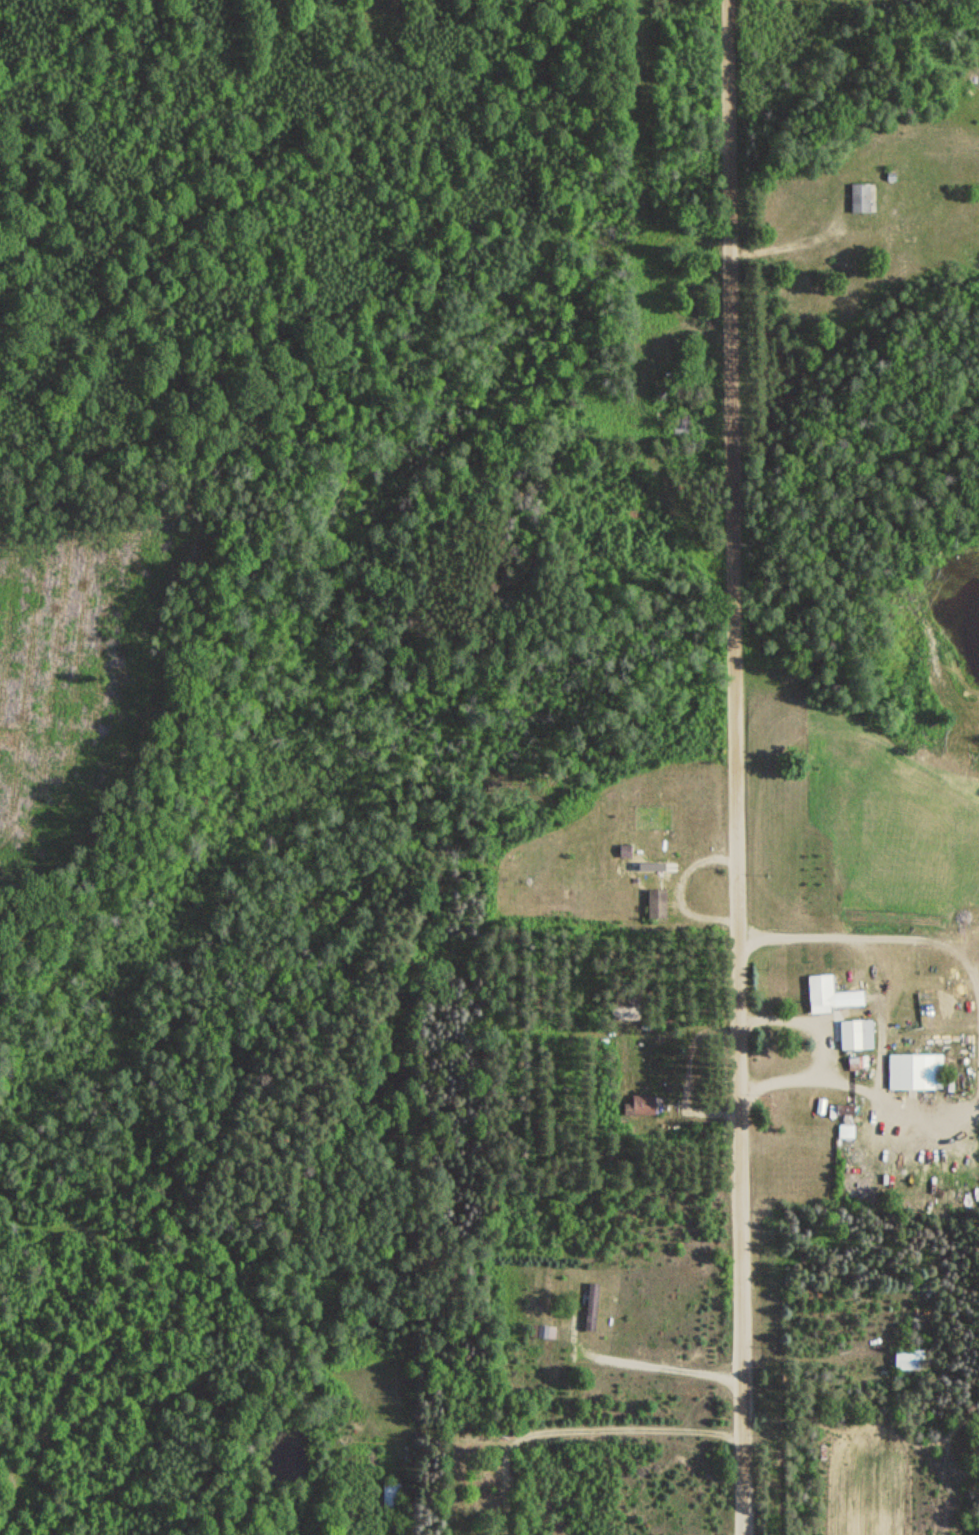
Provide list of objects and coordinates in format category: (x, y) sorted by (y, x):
building: (857, 198)
building: (679, 426)
road: (734, 767)
building: (650, 867)
building: (655, 904)
building: (817, 993)
building: (853, 1034)
road: (821, 1048)
building: (908, 1071)
building: (842, 1131)
building: (589, 1307)
building: (541, 1332)
building: (909, 1359)
road: (647, 1364)
road: (578, 1425)
building: (389, 1497)

